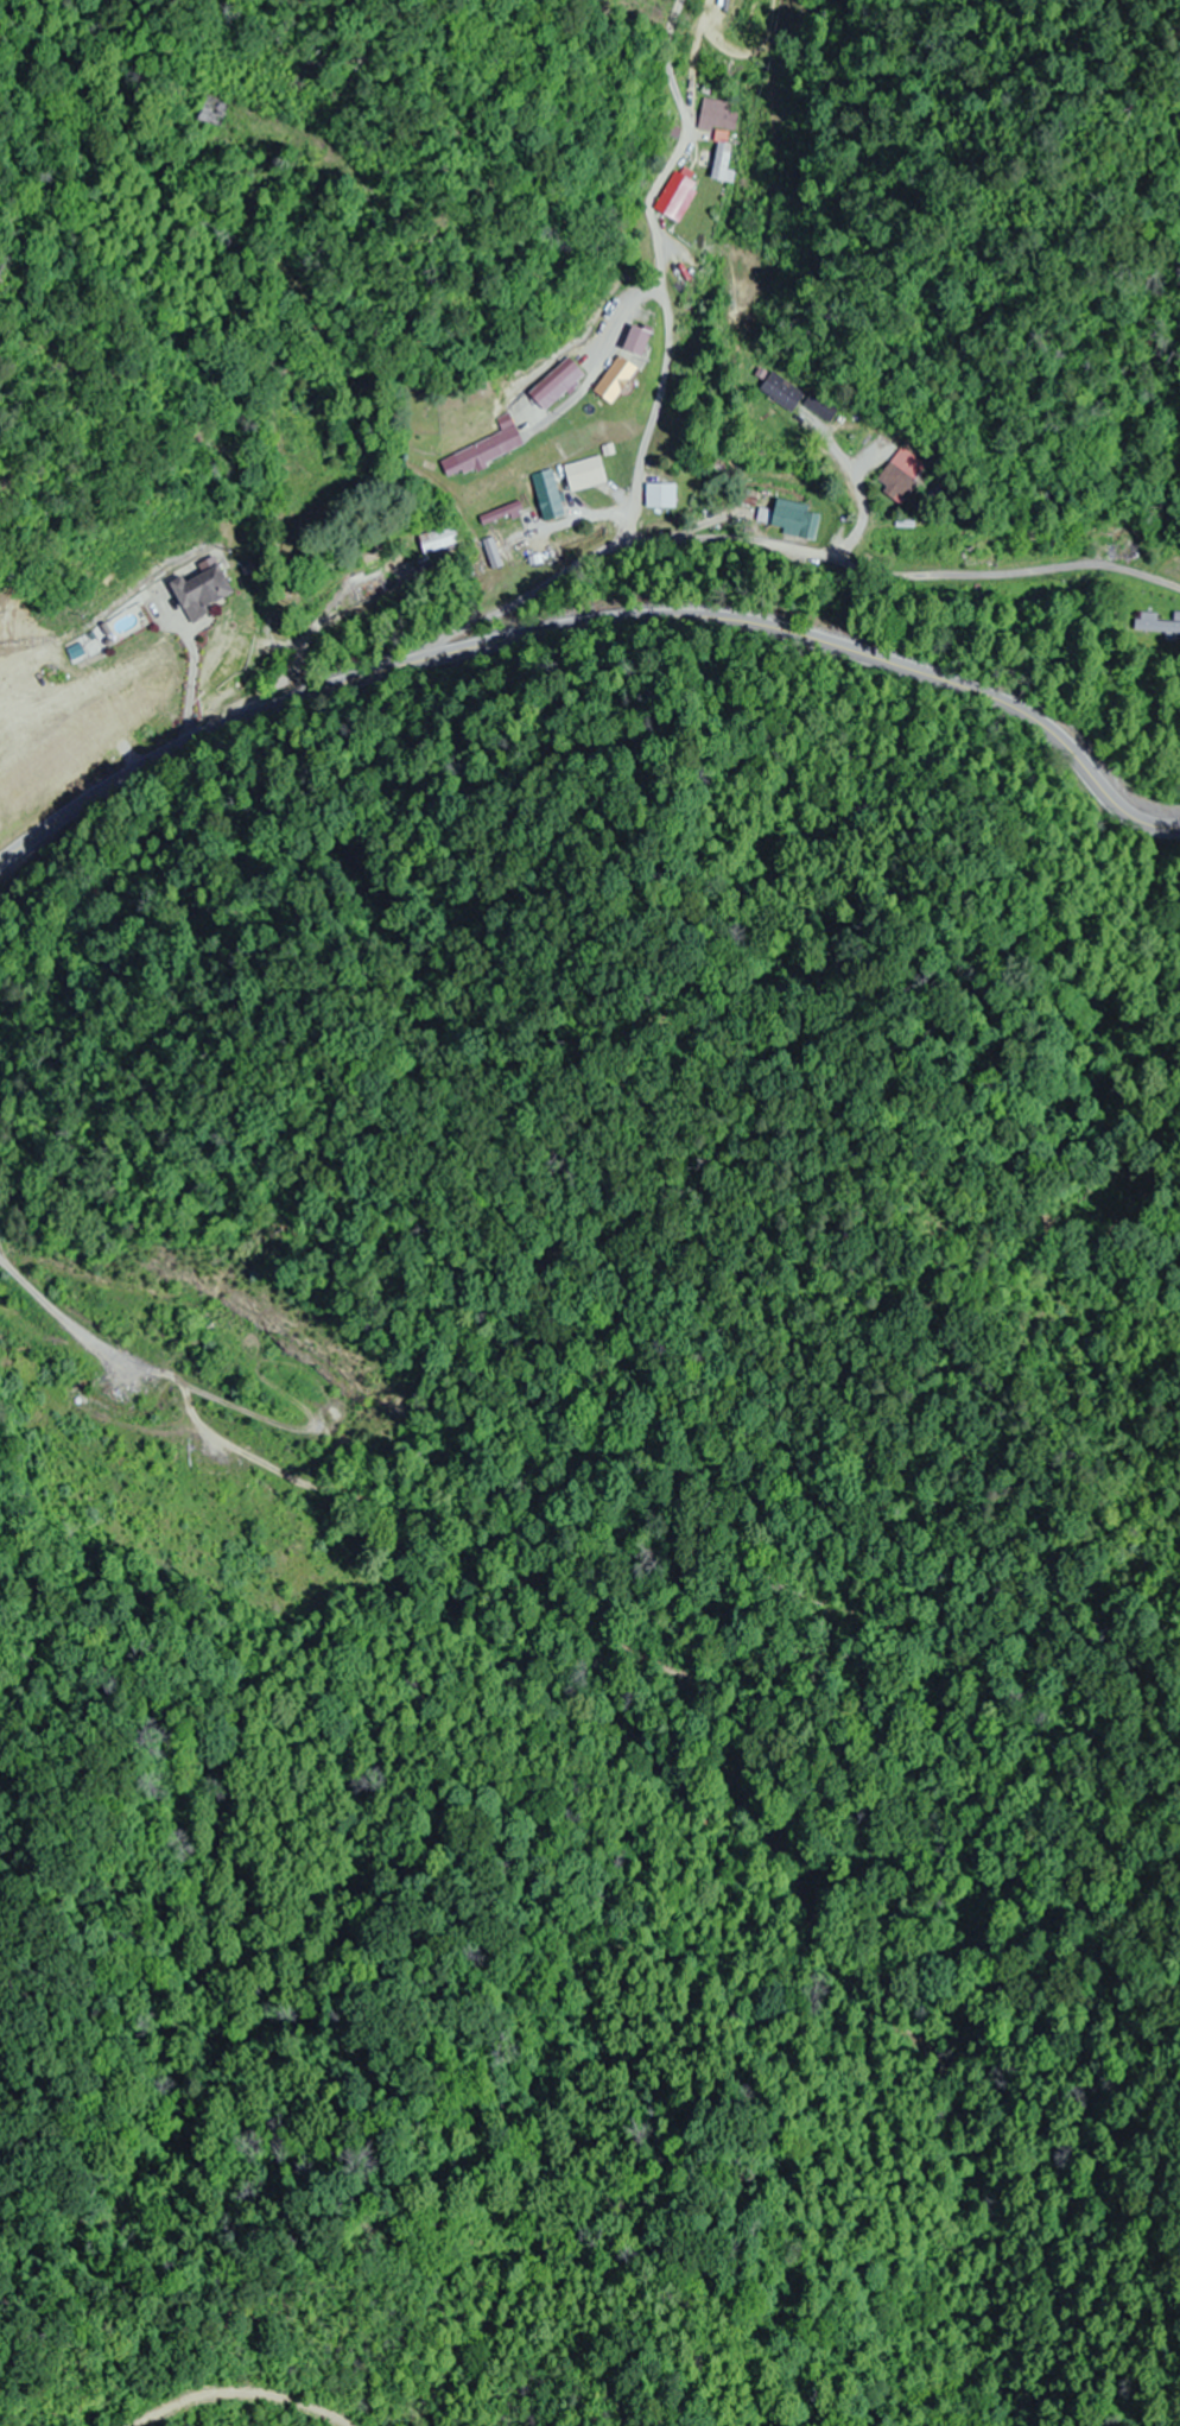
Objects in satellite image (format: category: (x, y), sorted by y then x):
building: (214, 109)
building: (718, 115)
building: (723, 164)
building: (677, 196)
road: (645, 260)
building: (636, 341)
building: (616, 380)
building: (562, 389)
building: (782, 392)
building: (823, 406)
building: (489, 451)
building: (586, 475)
building: (896, 483)
building: (662, 496)
building: (550, 499)
building: (797, 520)
road: (480, 526)
road: (768, 532)
building: (440, 540)
building: (1125, 546)
building: (985, 555)
building: (367, 588)
building: (202, 591)
road: (382, 593)
road: (592, 625)
building: (1157, 628)
road: (338, 664)
building: (95, 726)
building: (33, 786)

